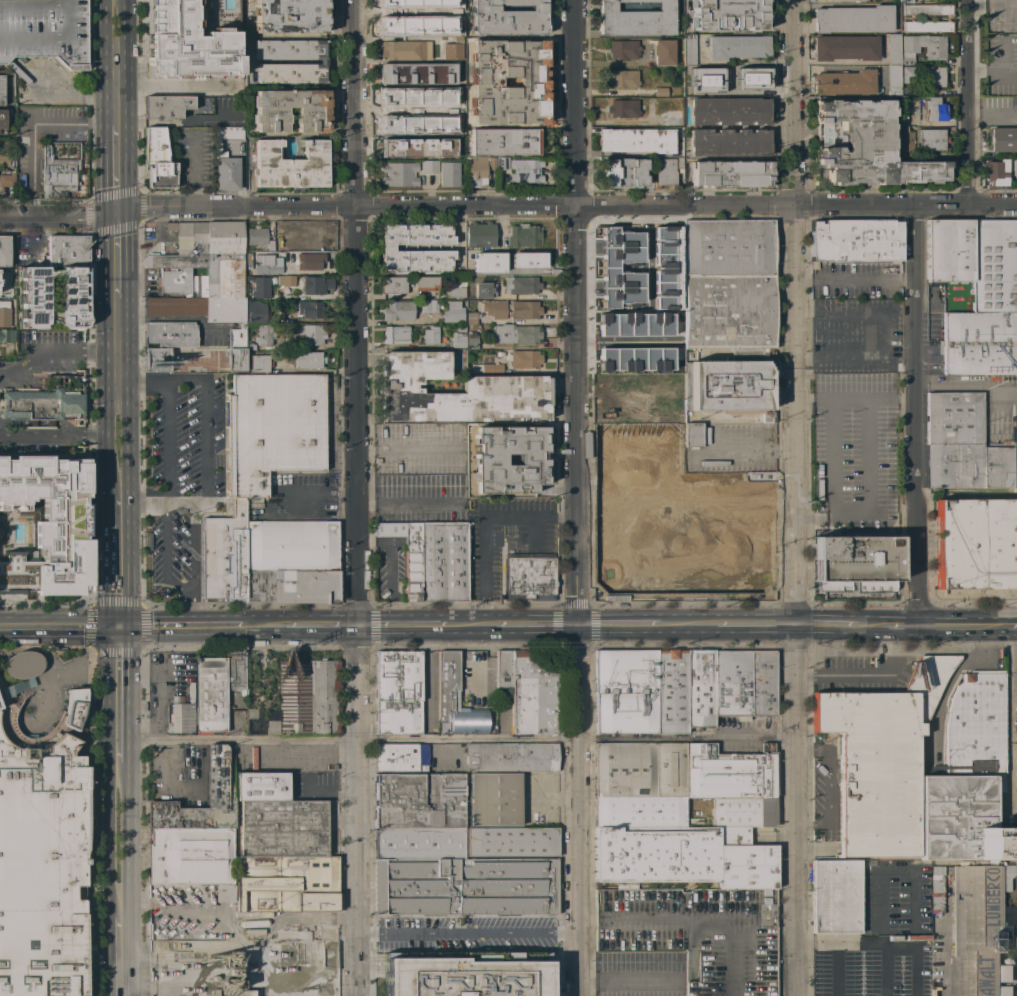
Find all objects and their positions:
building: (849, 0)
building: (905, 1)
building: (405, 3)
road: (989, 5)
building: (434, 6)
building: (927, 10)
building: (727, 14)
building: (289, 15)
building: (507, 18)
building: (635, 19)
building: (852, 19)
building: (405, 21)
building: (926, 26)
building: (43, 30)
parking lot: (43, 30)
building: (456, 30)
building: (187, 44)
building: (737, 47)
building: (844, 47)
building: (453, 49)
building: (623, 49)
building: (893, 49)
building: (404, 50)
building: (688, 50)
building: (934, 50)
building: (663, 52)
building: (322, 61)
road: (114, 62)
road: (847, 62)
building: (416, 73)
building: (908, 74)
building: (932, 77)
building: (740, 78)
building: (622, 79)
building: (705, 79)
building: (693, 80)
building: (893, 80)
building: (484, 81)
building: (844, 82)
road: (169, 86)
building: (1, 90)
building: (906, 90)
building: (433, 92)
building: (660, 92)
building: (455, 94)
building: (402, 96)
road: (967, 101)
building: (165, 107)
building: (622, 109)
building: (934, 109)
building: (269, 110)
building: (729, 111)
building: (63, 118)
building: (669, 118)
building: (3, 119)
building: (906, 119)
road: (32, 129)
building: (1002, 139)
building: (635, 140)
building: (931, 140)
building: (504, 142)
building: (729, 142)
building: (906, 143)
building: (154, 145)
building: (861, 146)
building: (417, 148)
road: (192, 159)
building: (225, 160)
building: (4, 161)
building: (501, 163)
building: (290, 165)
building: (428, 167)
road: (116, 168)
building: (1013, 169)
building: (478, 170)
building: (525, 171)
building: (622, 172)
building: (667, 172)
building: (731, 173)
building: (993, 173)
building: (160, 174)
building: (399, 174)
building: (448, 174)
building: (57, 176)
building: (7, 180)
road: (192, 197)
road: (508, 201)
traffic signals: (117, 212)
building: (480, 235)
building: (524, 235)
building: (304, 236)
building: (258, 238)
building: (855, 240)
building: (183, 247)
building: (387, 247)
building: (67, 250)
building: (3, 251)
road: (117, 255)
building: (247, 258)
building: (975, 260)
building: (309, 261)
building: (523, 261)
building: (486, 262)
building: (266, 265)
building: (607, 268)
building: (663, 269)
building: (4, 276)
building: (212, 280)
building: (285, 281)
building: (184, 282)
road: (855, 282)
building: (424, 283)
building: (315, 285)
building: (392, 285)
building: (521, 285)
building: (260, 288)
building: (454, 289)
building: (483, 289)
building: (33, 293)
building: (424, 306)
building: (433, 306)
building: (309, 309)
building: (493, 309)
building: (523, 310)
building: (398, 311)
building: (256, 312)
road: (839, 312)
building: (453, 313)
building: (4, 314)
building: (729, 314)
building: (471, 318)
road: (528, 320)
building: (633, 324)
building: (169, 334)
building: (308, 334)
building: (395, 334)
building: (515, 334)
building: (430, 335)
building: (6, 336)
building: (261, 336)
building: (236, 337)
building: (458, 340)
building: (471, 340)
building: (979, 343)
building: (6, 350)
road: (34, 353)
road: (101, 353)
road: (861, 353)
building: (634, 358)
building: (156, 359)
building: (523, 359)
building: (235, 360)
building: (308, 360)
building: (259, 364)
road: (117, 366)
building: (487, 368)
road: (186, 380)
building: (626, 384)
building: (505, 386)
road: (967, 388)
road: (899, 399)
road: (852, 400)
road: (810, 402)
building: (42, 403)
building: (673, 407)
building: (632, 408)
road: (918, 414)
building: (664, 418)
road: (13, 422)
road: (31, 422)
building: (31, 423)
road: (40, 423)
building: (49, 423)
road: (49, 423)
road: (70, 426)
building: (272, 429)
road: (44, 432)
road: (102, 433)
building: (692, 434)
road: (208, 441)
building: (965, 446)
road: (406, 450)
road: (749, 450)
building: (489, 459)
road: (117, 464)
road: (866, 469)
parking lot: (181, 475)
road: (830, 476)
building: (683, 480)
road: (163, 483)
road: (357, 497)
road: (577, 497)
road: (795, 498)
road: (286, 502)
road: (406, 503)
road: (140, 504)
road: (186, 504)
building: (682, 511)
road: (518, 517)
building: (47, 525)
road: (372, 544)
building: (976, 544)
road: (194, 546)
building: (223, 554)
building: (407, 555)
building: (855, 558)
road: (484, 559)
road: (117, 561)
building: (290, 561)
building: (443, 562)
road: (389, 567)
building: (741, 572)
building: (529, 577)
road: (179, 588)
road: (392, 607)
road: (194, 608)
road: (485, 612)
road: (319, 624)
road: (404, 624)
road: (468, 624)
road: (490, 624)
road: (536, 624)
traffic signals: (578, 624)
road: (618, 624)
road: (686, 624)
road: (755, 624)
road: (826, 624)
road: (260, 625)
road: (871, 625)
road: (1011, 625)
road: (903, 626)
road: (963, 626)
road: (58, 627)
road: (180, 627)
traffic signals: (118, 628)
road: (1012, 654)
road: (489, 657)
building: (22, 664)
building: (503, 669)
building: (235, 671)
road: (865, 675)
building: (744, 683)
building: (700, 688)
building: (190, 691)
building: (398, 692)
building: (429, 692)
building: (625, 692)
building: (671, 692)
road: (118, 695)
building: (209, 695)
building: (532, 695)
building: (306, 697)
building: (180, 699)
building: (456, 699)
building: (181, 718)
road: (1008, 721)
building: (975, 724)
building: (441, 727)
building: (270, 728)
road: (1013, 737)
road: (458, 739)
building: (400, 757)
building: (511, 757)
building: (879, 759)
building: (640, 770)
building: (728, 773)
building: (216, 774)
road: (829, 781)
building: (261, 787)
road: (1013, 798)
building: (494, 799)
building: (418, 800)
building: (639, 811)
building: (742, 812)
building: (925, 818)
building: (967, 822)
building: (283, 828)
road: (118, 839)
building: (511, 842)
building: (420, 843)
building: (41, 854)
building: (190, 856)
building: (683, 858)
road: (906, 869)
building: (286, 883)
building: (466, 887)
building: (224, 893)
building: (836, 896)
parking lot: (44, 901)
road: (160, 904)
storage tank: (253, 923)
building: (294, 928)
building: (980, 930)
building: (697, 933)
parking garage: (697, 933)
road: (467, 937)
parking lot: (883, 940)
road: (881, 946)
road: (119, 956)
road: (836, 971)
road: (885, 971)
building: (420, 973)
building: (229, 974)
building: (510, 974)
parking lot: (637, 974)
building: (243, 993)

